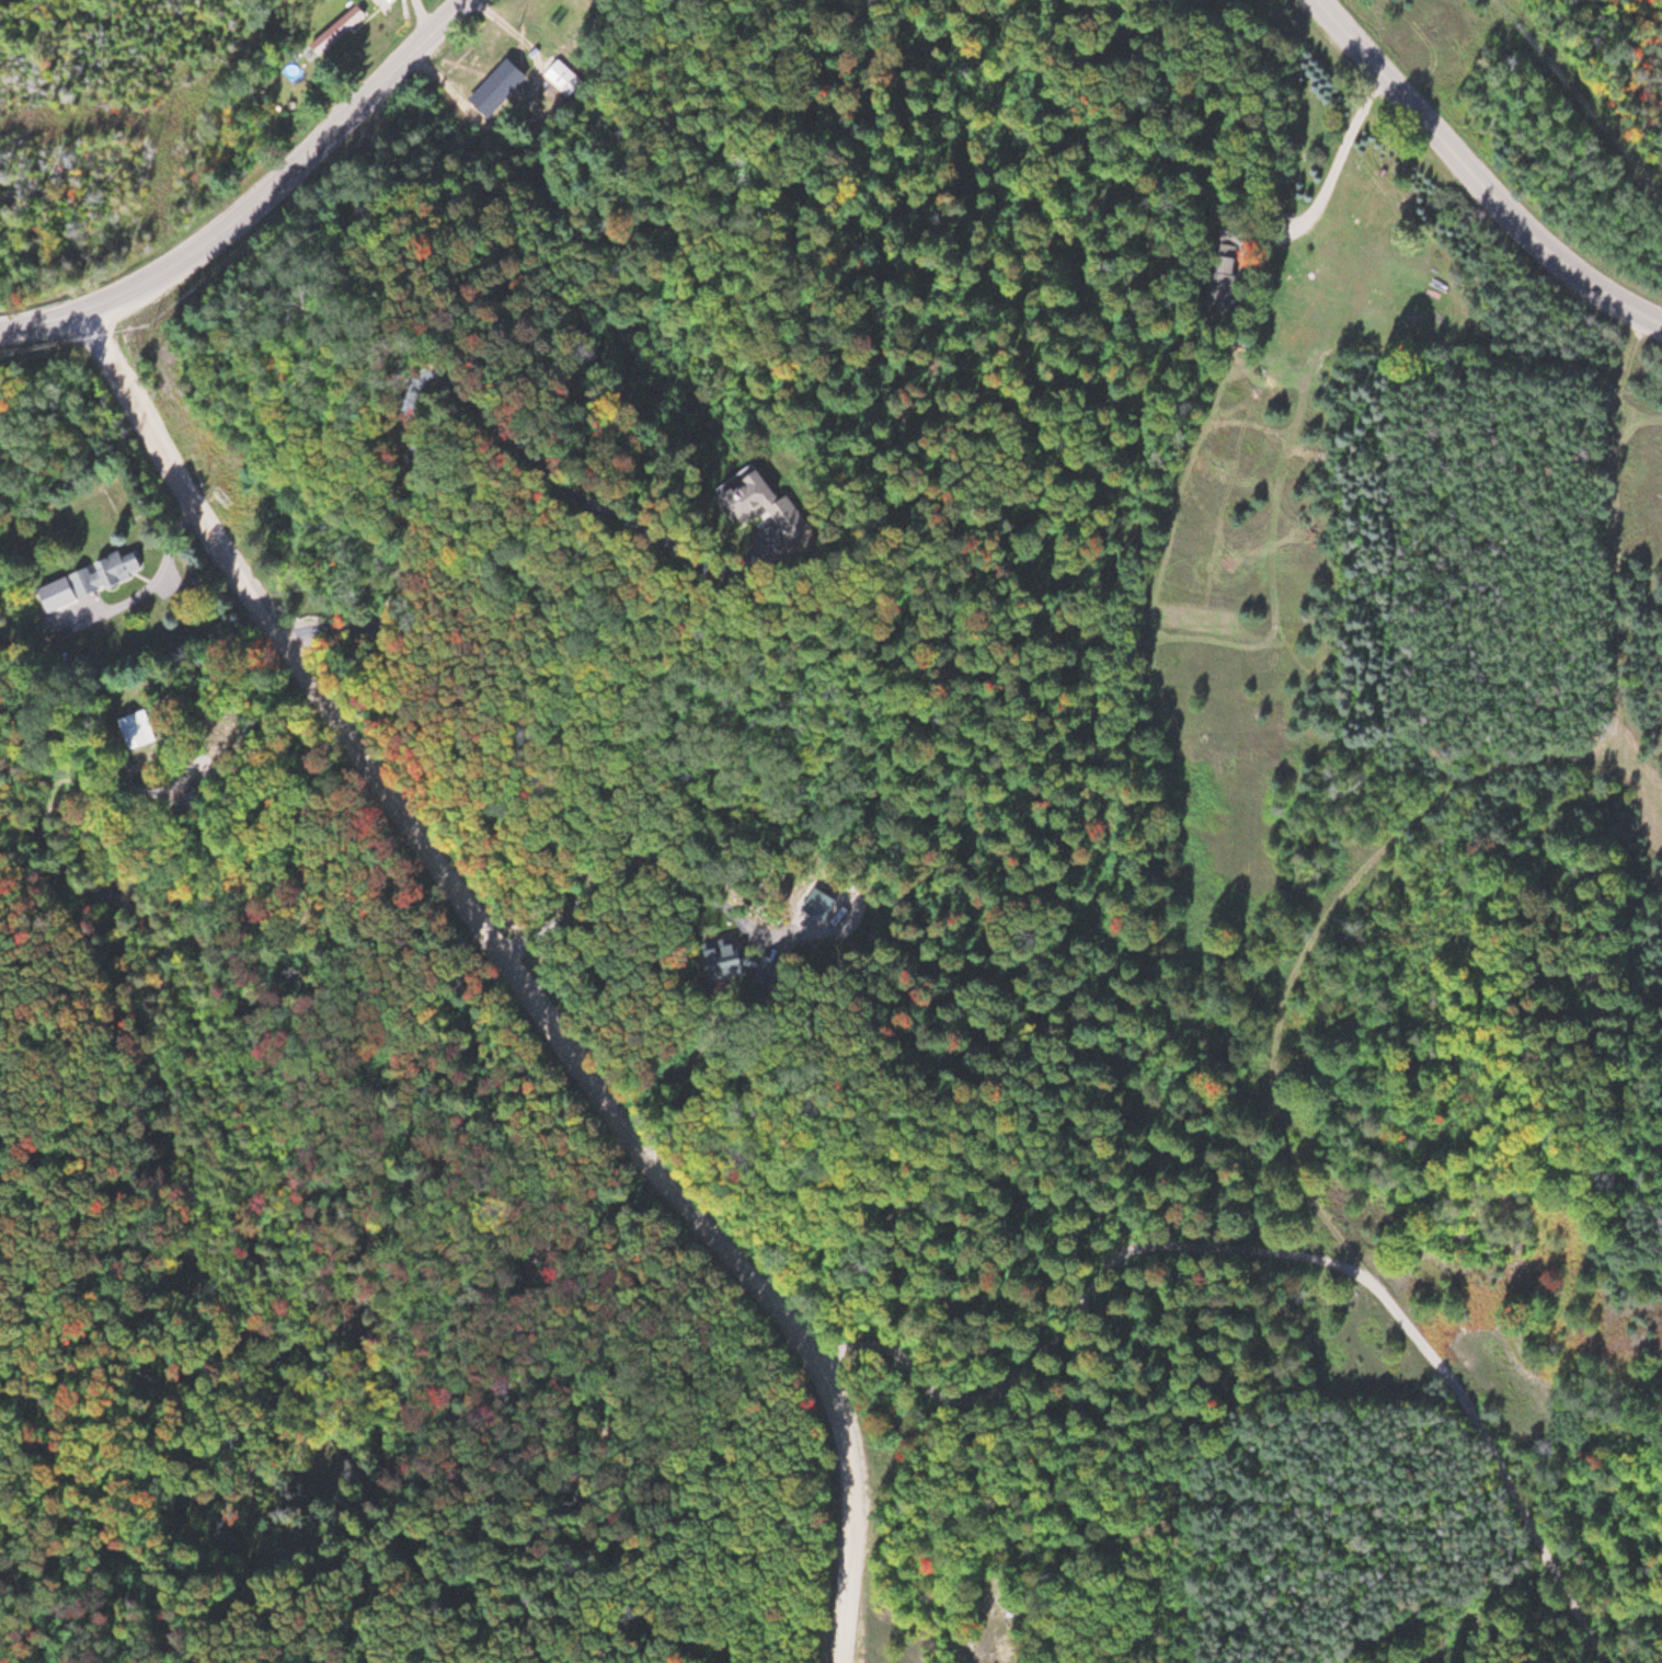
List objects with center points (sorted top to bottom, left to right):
building: (337, 27)
building: (561, 74)
building: (503, 87)
road: (1479, 174)
road: (263, 205)
building: (111, 572)
building: (138, 729)
building: (729, 960)
road: (521, 975)

